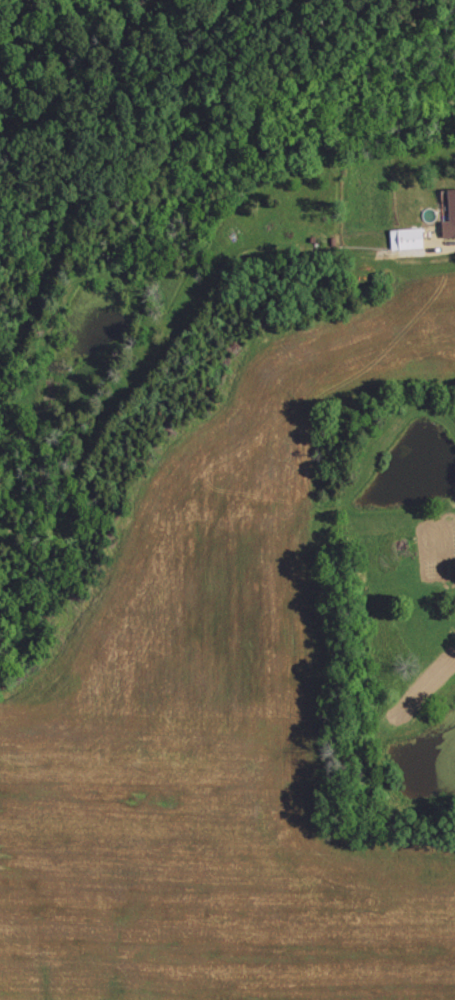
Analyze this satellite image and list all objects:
building: (450, 214)
building: (408, 239)
road: (415, 254)

